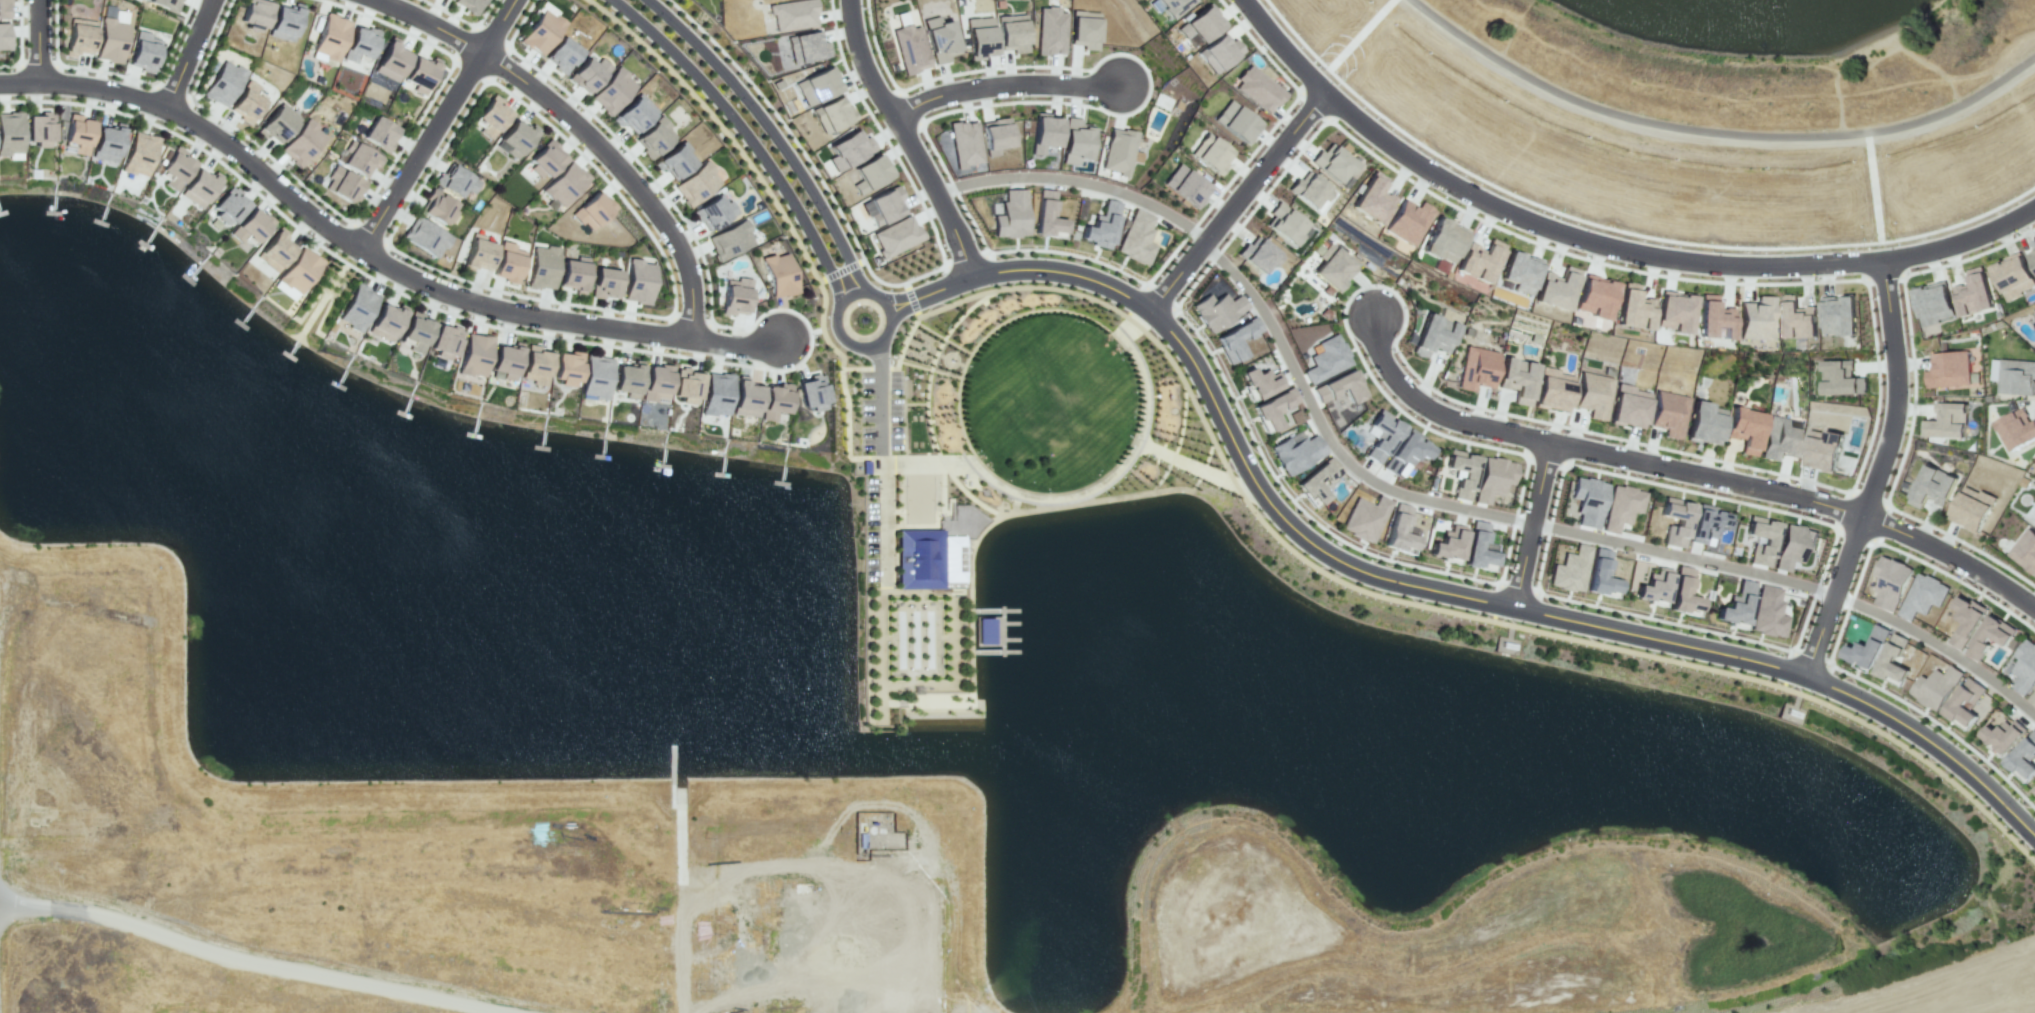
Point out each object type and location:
building: (448, 0)
building: (166, 4)
building: (467, 5)
building: (1172, 7)
building: (3, 8)
building: (255, 14)
building: (792, 15)
road: (463, 20)
building: (284, 21)
road: (431, 23)
building: (1200, 24)
building: (541, 29)
building: (1083, 30)
building: (1012, 32)
building: (1050, 32)
building: (4, 36)
building: (78, 37)
building: (330, 37)
building: (979, 37)
building: (939, 39)
building: (109, 40)
road: (20, 42)
road: (40, 42)
building: (359, 44)
building: (805, 47)
road: (1283, 47)
building: (910, 49)
building: (143, 52)
road: (189, 54)
building: (562, 54)
building: (1219, 54)
building: (391, 60)
road: (1140, 60)
building: (420, 74)
building: (588, 74)
road: (118, 77)
building: (223, 83)
road: (1004, 84)
road: (85, 86)
building: (817, 86)
building: (1259, 89)
building: (612, 92)
building: (246, 101)
road: (88, 104)
road: (1286, 111)
building: (831, 113)
building: (634, 114)
building: (492, 116)
building: (277, 123)
road: (437, 124)
building: (1234, 124)
building: (38, 129)
building: (10, 133)
building: (379, 133)
road: (773, 133)
building: (1044, 133)
road: (1716, 133)
building: (78, 135)
building: (518, 136)
road: (747, 136)
building: (995, 136)
building: (653, 137)
road: (906, 138)
building: (1075, 140)
building: (106, 142)
building: (302, 142)
building: (964, 143)
building: (848, 149)
building: (1118, 151)
building: (137, 154)
building: (1210, 154)
building: (546, 158)
building: (360, 160)
building: (675, 161)
building: (1334, 165)
building: (177, 167)
road: (624, 172)
road: (266, 175)
building: (869, 175)
building: (457, 179)
road: (1078, 180)
building: (565, 183)
building: (695, 183)
building: (200, 185)
building: (343, 186)
building: (1185, 186)
building: (1307, 191)
building: (1372, 198)
road: (1237, 202)
building: (232, 203)
building: (440, 205)
building: (885, 206)
building: (593, 209)
road: (781, 210)
road: (362, 212)
building: (714, 212)
building: (1010, 214)
building: (1046, 214)
building: (1286, 222)
building: (1409, 222)
building: (252, 226)
building: (1101, 226)
road: (1619, 230)
building: (428, 235)
building: (896, 236)
building: (1137, 238)
building: (729, 239)
building: (1443, 240)
road: (1584, 240)
road: (1961, 240)
building: (276, 249)
building: (479, 252)
road: (1072, 254)
building: (1257, 255)
building: (1481, 260)
building: (2030, 260)
building: (509, 261)
building: (544, 266)
road: (1023, 267)
building: (1334, 267)
building: (300, 269)
road: (841, 270)
building: (779, 273)
building: (1521, 273)
building: (575, 274)
building: (2013, 279)
building: (638, 280)
building: (606, 282)
road: (883, 282)
building: (1556, 288)
road: (873, 293)
building: (1974, 293)
building: (1595, 295)
building: (735, 296)
road: (911, 299)
building: (1933, 303)
road: (580, 304)
building: (357, 307)
building: (1634, 308)
road: (1031, 310)
building: (1216, 310)
building: (1675, 312)
building: (1839, 316)
building: (1715, 318)
building: (1757, 319)
building: (2034, 320)
road: (565, 321)
building: (1796, 321)
building: (386, 322)
road: (1128, 329)
road: (816, 330)
building: (415, 332)
building: (1435, 334)
road: (944, 337)
building: (1235, 338)
building: (445, 341)
road: (853, 344)
road: (951, 352)
building: (473, 355)
road: (940, 355)
building: (506, 360)
building: (1326, 360)
road: (736, 363)
road: (962, 364)
building: (536, 365)
road: (860, 367)
building: (1478, 367)
building: (567, 368)
road: (930, 368)
road: (1293, 369)
building: (1947, 369)
building: (1993, 370)
building: (596, 375)
building: (2016, 376)
building: (1519, 378)
building: (627, 379)
building: (1841, 379)
building: (1258, 381)
building: (656, 382)
building: (686, 386)
building: (1340, 387)
building: (1554, 388)
building: (812, 391)
building: (714, 394)
building: (1595, 394)
building: (745, 397)
road: (928, 399)
road: (880, 400)
building: (775, 401)
road: (916, 403)
park: (1050, 404)
building: (1630, 405)
road: (1913, 406)
building: (1272, 408)
parking lot: (881, 410)
road: (1433, 411)
building: (1670, 412)
road: (958, 417)
building: (1705, 422)
building: (1946, 422)
building: (1746, 428)
building: (2017, 428)
park: (917, 431)
road: (1180, 434)
building: (1383, 437)
building: (1781, 437)
building: (1819, 450)
building: (1295, 451)
building: (1405, 453)
road: (919, 457)
road: (1187, 463)
road: (1204, 466)
road: (1859, 470)
road: (1875, 470)
building: (1462, 474)
road: (1707, 476)
road: (1111, 477)
building: (1492, 479)
building: (1303, 483)
building: (1931, 486)
road: (1167, 490)
road: (1398, 491)
road: (1701, 493)
park: (919, 499)
building: (1588, 502)
road: (1296, 503)
building: (1622, 506)
road: (1470, 508)
building: (1971, 508)
road: (1000, 514)
building: (1365, 518)
road: (885, 522)
road: (1532, 524)
building: (1706, 524)
building: (1682, 525)
building: (2034, 525)
road: (986, 526)
parking lot: (871, 530)
building: (1399, 531)
building: (1768, 541)
building: (1447, 544)
building: (1792, 546)
building: (1478, 548)
building: (2025, 550)
road: (1544, 556)
road: (1683, 556)
road: (1951, 556)
building: (920, 558)
road: (1930, 565)
building: (1569, 569)
building: (1600, 574)
building: (1890, 583)
building: (1653, 587)
building: (1682, 593)
building: (1921, 597)
road: (1400, 599)
building: (1734, 605)
building: (1767, 612)
road: (1557, 616)
building: (1965, 621)
road: (1694, 627)
building: (1989, 637)
park: (915, 639)
road: (1938, 645)
building: (1867, 650)
building: (1892, 660)
building: (2024, 665)
building: (1934, 688)
building: (2032, 698)
building: (1963, 704)
road: (1912, 707)
building: (2002, 737)
building: (2022, 758)
building: (2033, 790)
road: (263, 961)
road: (1933, 993)

